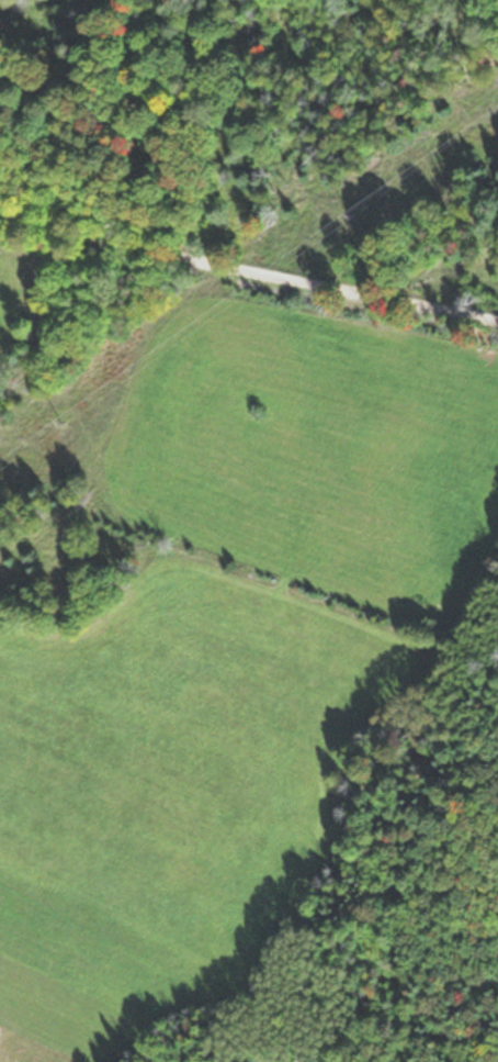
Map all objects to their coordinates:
road: (125, 133)
road: (248, 270)

